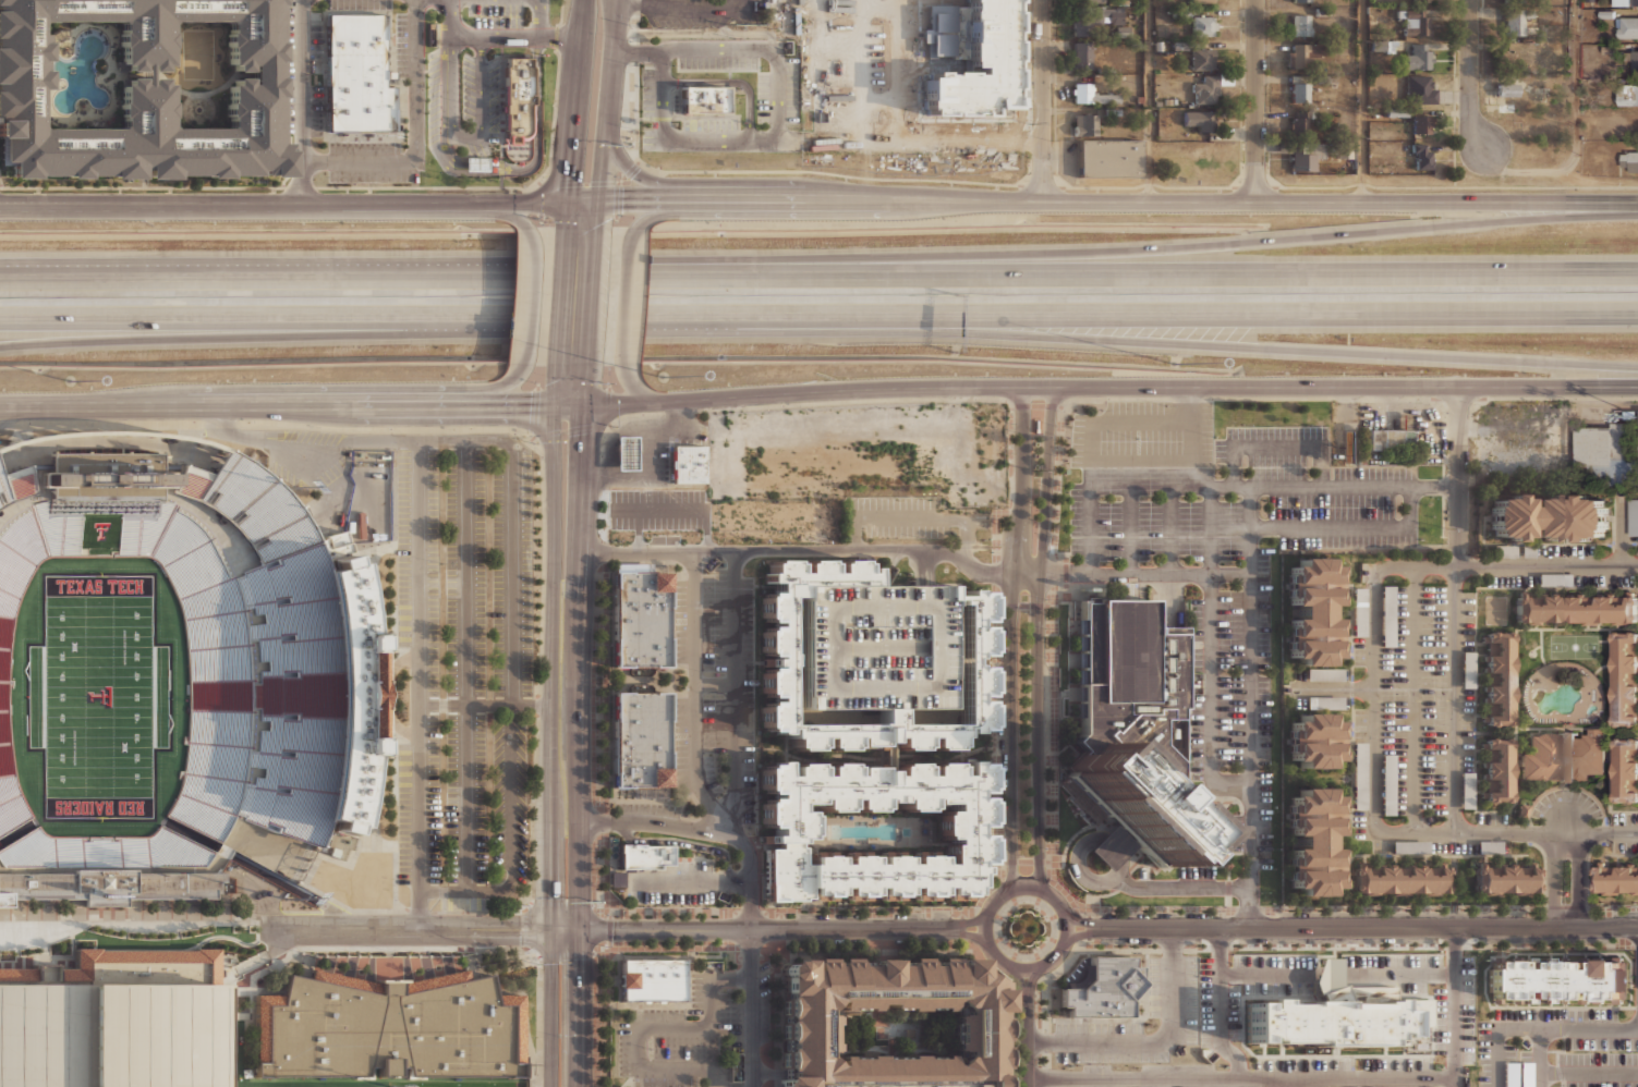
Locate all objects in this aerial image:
building: (1301, 0)
building: (1204, 1)
building: (1422, 1)
building: (1622, 2)
building: (1636, 2)
parking lot: (359, 3)
building: (1101, 3)
road: (678, 10)
parking lot: (495, 12)
road: (560, 13)
road: (542, 17)
building: (1099, 21)
building: (1418, 22)
building: (1516, 22)
building: (1301, 24)
building: (1204, 25)
building: (1628, 27)
road: (827, 32)
road: (497, 36)
road: (556, 37)
parking lot: (401, 42)
building: (1387, 46)
road: (735, 51)
building: (1085, 56)
building: (1305, 56)
building: (1420, 56)
building: (1203, 59)
building: (1635, 60)
parking lot: (718, 61)
parking lot: (300, 72)
building: (357, 74)
road: (1470, 75)
road: (735, 82)
building: (1506, 87)
building: (1206, 89)
building: (1421, 89)
building: (1300, 90)
parking lot: (480, 91)
building: (1087, 93)
building: (143, 94)
parking lot: (777, 94)
building: (1627, 94)
building: (851, 95)
building: (785, 96)
building: (1014, 97)
parking lot: (433, 98)
building: (517, 98)
building: (974, 98)
road: (1255, 98)
road: (1042, 99)
road: (1150, 99)
road: (1361, 99)
building: (704, 100)
road: (302, 102)
parking lot: (647, 108)
building: (1506, 109)
building: (1396, 111)
road: (575, 115)
road: (604, 117)
building: (1199, 120)
parking lot: (709, 122)
building: (1300, 122)
building: (1093, 124)
building: (1421, 124)
road: (1576, 131)
road: (465, 135)
road: (416, 137)
road: (921, 141)
road: (690, 142)
road: (536, 148)
building: (1345, 149)
road: (501, 154)
building: (1307, 155)
building: (1422, 157)
building: (1107, 158)
parking lot: (366, 160)
building: (1629, 161)
road: (627, 163)
road: (630, 169)
road: (460, 170)
road: (827, 172)
road: (620, 179)
road: (578, 182)
road: (497, 187)
road: (616, 198)
road: (1063, 198)
road: (539, 199)
traffic signals: (597, 200)
traffic signals: (569, 201)
road: (244, 206)
road: (665, 210)
road: (519, 220)
road: (1307, 237)
road: (256, 270)
road: (1320, 271)
road: (824, 272)
road: (620, 295)
road: (574, 297)
road: (543, 300)
road: (611, 302)
road: (530, 307)
road: (1309, 322)
road: (417, 325)
road: (163, 326)
road: (811, 326)
road: (163, 337)
road: (1309, 349)
road: (574, 386)
road: (638, 388)
road: (1108, 388)
road: (494, 390)
road: (228, 404)
road: (608, 405)
road: (519, 407)
traffic signals: (555, 407)
traffic signals: (581, 407)
road: (679, 415)
road: (842, 423)
road: (267, 424)
road: (678, 430)
parking lot: (1278, 432)
road: (545, 433)
road: (619, 435)
building: (1393, 436)
building: (991, 437)
road: (482, 440)
parking lot: (687, 440)
road: (729, 445)
road: (1277, 447)
building: (626, 450)
gas station: (626, 450)
parking lot: (1220, 451)
building: (1606, 454)
road: (615, 460)
road: (1109, 461)
building: (688, 464)
parking lot: (665, 465)
building: (827, 465)
parking lot: (1277, 466)
parking lot: (726, 467)
parking lot: (942, 468)
road: (957, 468)
parking lot: (1149, 473)
parking lot: (1376, 473)
road: (1092, 474)
road: (1130, 474)
road: (1170, 474)
road: (638, 477)
parking lot: (980, 487)
road: (1231, 487)
building: (835, 492)
parking lot: (894, 503)
building: (374, 505)
parking lot: (1333, 506)
building: (1548, 516)
building: (1634, 516)
road: (915, 518)
parking lot: (1077, 518)
parking lot: (983, 520)
road: (1352, 527)
road: (1130, 529)
parking lot: (1170, 529)
road: (1170, 529)
parking lot: (909, 530)
road: (1623, 530)
road: (1630, 537)
parking lot: (1349, 540)
building: (1503, 550)
parking lot: (1518, 550)
building: (1528, 550)
parking lot: (1565, 550)
road: (920, 552)
road: (923, 569)
parking lot: (511, 571)
parking lot: (1512, 579)
building: (1555, 579)
parking lot: (1604, 579)
road: (441, 583)
parking lot: (1131, 588)
parking lot: (682, 595)
road: (1170, 595)
building: (1576, 606)
parking lot: (1264, 608)
road: (1376, 608)
park: (1495, 610)
building: (1312, 611)
building: (1359, 611)
building: (1387, 615)
building: (639, 620)
parking lot: (1198, 620)
parking lot: (715, 621)
parking lot: (1468, 621)
parking lot: (1231, 628)
road: (1011, 640)
road: (1036, 643)
road: (553, 646)
parking lot: (872, 646)
park: (1573, 646)
parking lot: (682, 647)
parking lot: (1359, 650)
road: (1212, 652)
building: (778, 654)
parking lot: (1198, 658)
parking lot: (417, 660)
road: (465, 664)
parking lot: (465, 665)
road: (580, 668)
building: (199, 669)
building: (1467, 669)
stadium: (170, 672)
parking lot: (1301, 674)
building: (1324, 674)
parking lot: (1346, 674)
building: (1497, 677)
building: (1624, 677)
road: (418, 684)
road: (716, 685)
road: (736, 687)
road: (1335, 688)
park: (106, 689)
road: (695, 695)
road: (1416, 698)
parking lot: (1395, 699)
parking lot: (1433, 699)
parking lot: (749, 700)
road: (1455, 700)
parking lot: (1301, 701)
building: (1324, 701)
parking lot: (1346, 703)
road: (509, 704)
road: (1252, 707)
parking lot: (1359, 712)
parking lot: (682, 715)
parking lot: (1198, 719)
parking lot: (1265, 720)
parking lot: (1231, 721)
parking lot: (1359, 722)
parking lot: (715, 724)
building: (1133, 729)
parking lot: (1467, 730)
parking lot: (1359, 735)
building: (640, 740)
building: (1313, 741)
parking lot: (682, 754)
building: (1563, 755)
parking lot: (1198, 761)
road: (534, 764)
building: (1496, 768)
building: (1625, 769)
parking lot: (712, 774)
building: (1359, 775)
building: (1387, 784)
building: (1467, 790)
parking lot: (509, 792)
parking lot: (1549, 798)
road: (441, 802)
parking lot: (1588, 805)
parking lot: (647, 808)
parking lot: (1539, 809)
building: (1522, 811)
road: (510, 816)
parking lot: (1491, 818)
parking lot: (1624, 818)
parking lot: (1265, 820)
parking lot: (1359, 823)
road: (1566, 829)
building: (955, 831)
parking lot: (1237, 832)
building: (1313, 842)
road: (683, 843)
parking lot: (1382, 846)
building: (1410, 846)
parking lot: (1453, 846)
building: (1490, 846)
parking lot: (1625, 846)
road: (1114, 847)
road: (1076, 851)
building: (645, 856)
parking lot: (702, 866)
road: (751, 866)
parking lot: (684, 867)
parking lot: (1144, 874)
parking lot: (1197, 874)
road: (1113, 877)
building: (617, 878)
building: (1615, 878)
building: (1399, 879)
building: (1505, 879)
road: (692, 882)
road: (1560, 887)
road: (1574, 887)
road: (1181, 888)
road: (1030, 889)
road: (442, 890)
parking lot: (635, 896)
parking lot: (677, 896)
building: (3, 901)
road: (973, 920)
road: (1081, 923)
road: (133, 925)
road: (987, 927)
road: (1369, 927)
road: (765, 928)
road: (409, 929)
road: (565, 930)
traffic signals: (580, 930)
road: (1066, 930)
traffic signals: (551, 931)
road: (1080, 933)
road: (972, 935)
parking lot: (1274, 960)
road: (1027, 968)
parking lot: (1391, 968)
road: (1342, 976)
building: (1557, 978)
building: (651, 979)
road: (1031, 982)
road: (1021, 985)
parking lot: (1173, 987)
building: (1104, 988)
parking lot: (1289, 988)
parking lot: (696, 992)
parking lot: (764, 1001)
road: (1458, 1002)
parking lot: (1217, 1003)
road: (1226, 1005)
road: (551, 1009)
road: (580, 1009)
parking lot: (1456, 1011)
parking lot: (658, 1014)
parking lot: (1529, 1014)
parking lot: (1573, 1015)
parking lot: (1598, 1015)
building: (1339, 1017)
building: (111, 1019)
building: (806, 1021)
road: (654, 1027)
building: (389, 1028)
road: (1540, 1030)
road: (1152, 1036)
parking lot: (713, 1042)
parking lot: (1600, 1042)
road: (1027, 1046)
parking lot: (624, 1049)
parking lot: (1509, 1052)
parking lot: (1484, 1053)
parking lot: (1526, 1057)
parking lot: (1598, 1058)
road: (1541, 1059)
parking lot: (1298, 1063)
parking lot: (1349, 1063)
parking lot: (1397, 1063)
road: (1589, 1073)
road: (766, 1074)
building: (1510, 1074)
building: (1526, 1074)
road: (1242, 1077)
parking lot: (666, 1082)
road: (1283, 1082)
road: (1459, 1082)
park: (385, 1084)
parking lot: (1601, 1084)
parking lot: (890, 1085)

